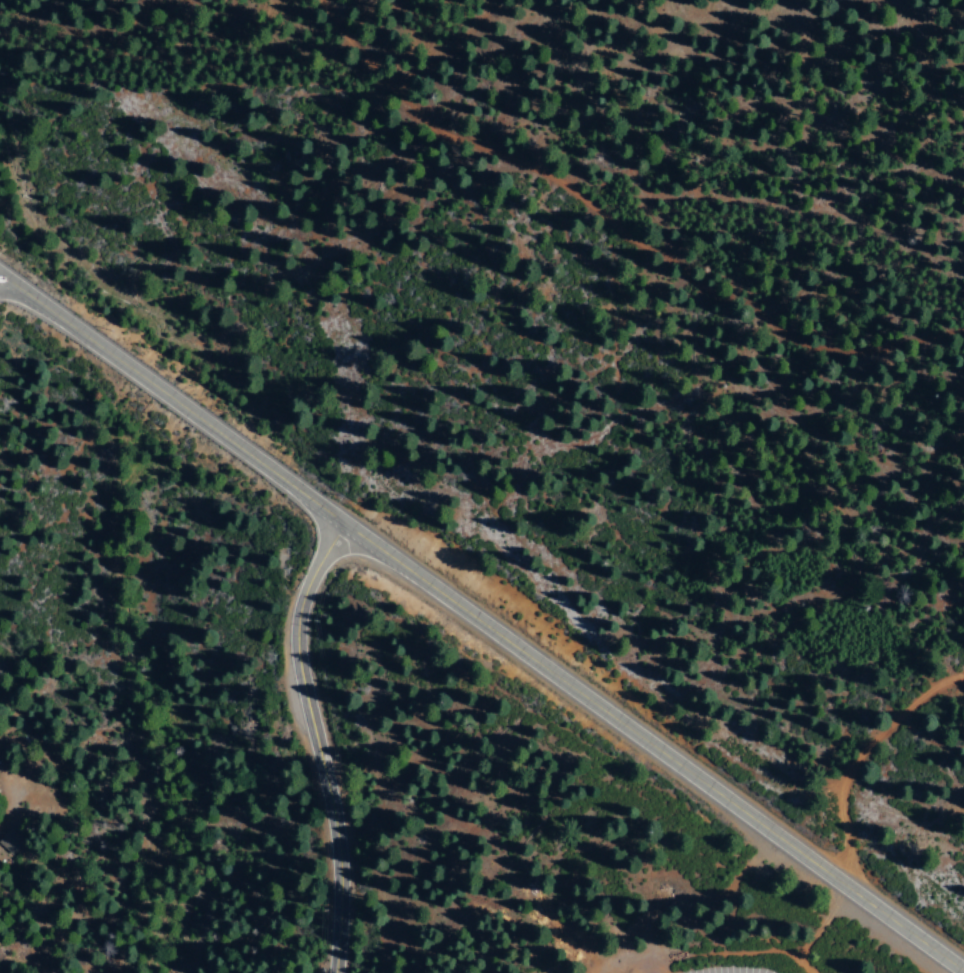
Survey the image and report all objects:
road: (476, 624)
road: (312, 744)
road: (880, 778)
parking lot: (732, 968)

